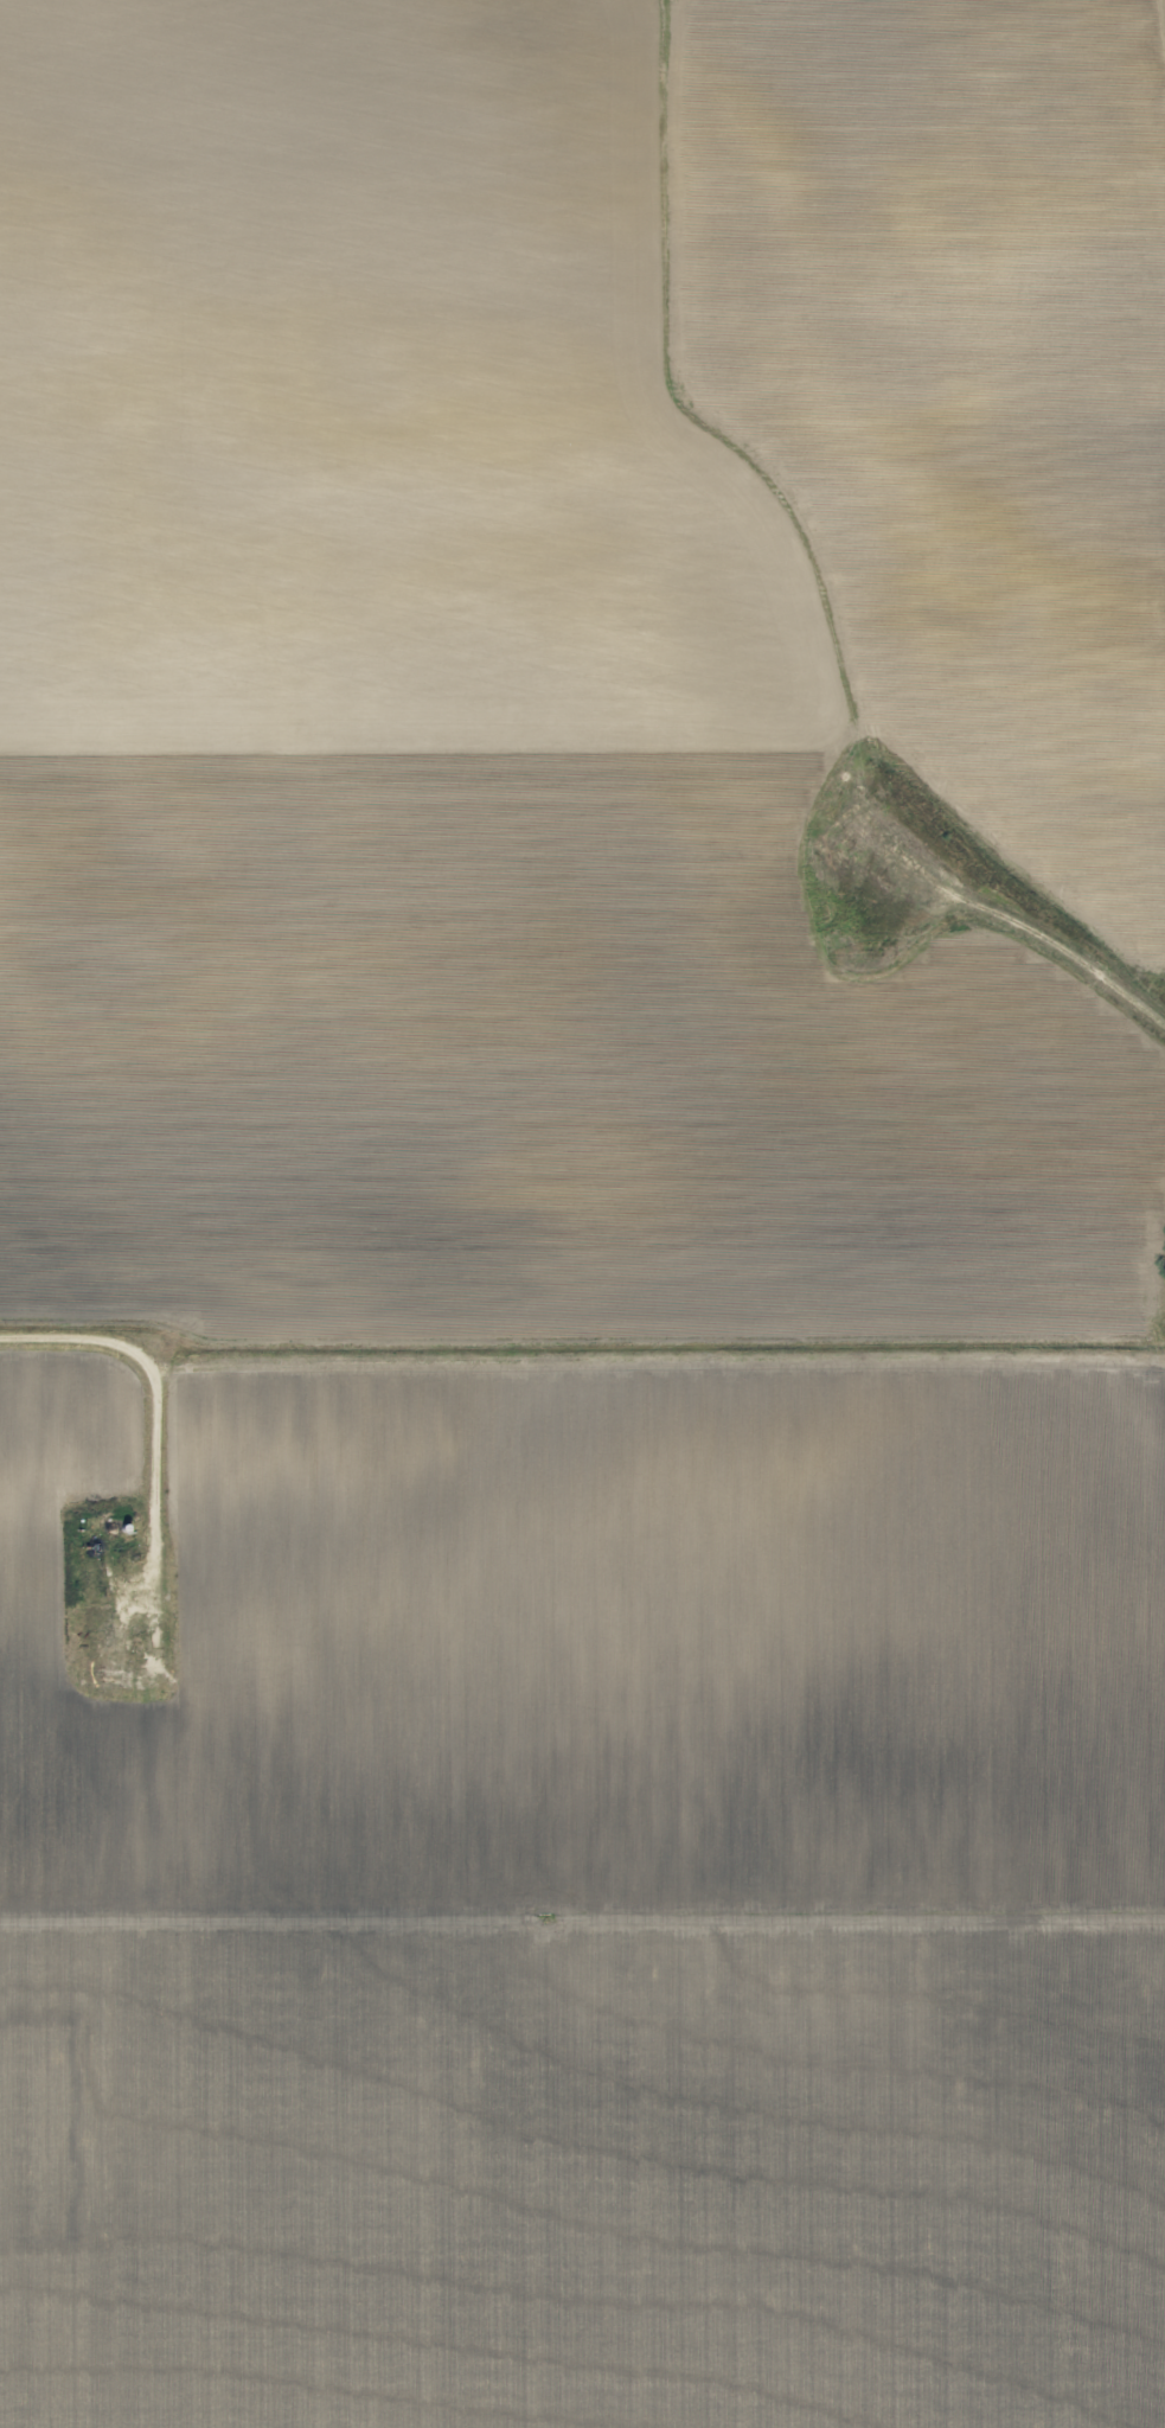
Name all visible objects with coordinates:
road: (152, 1354)

